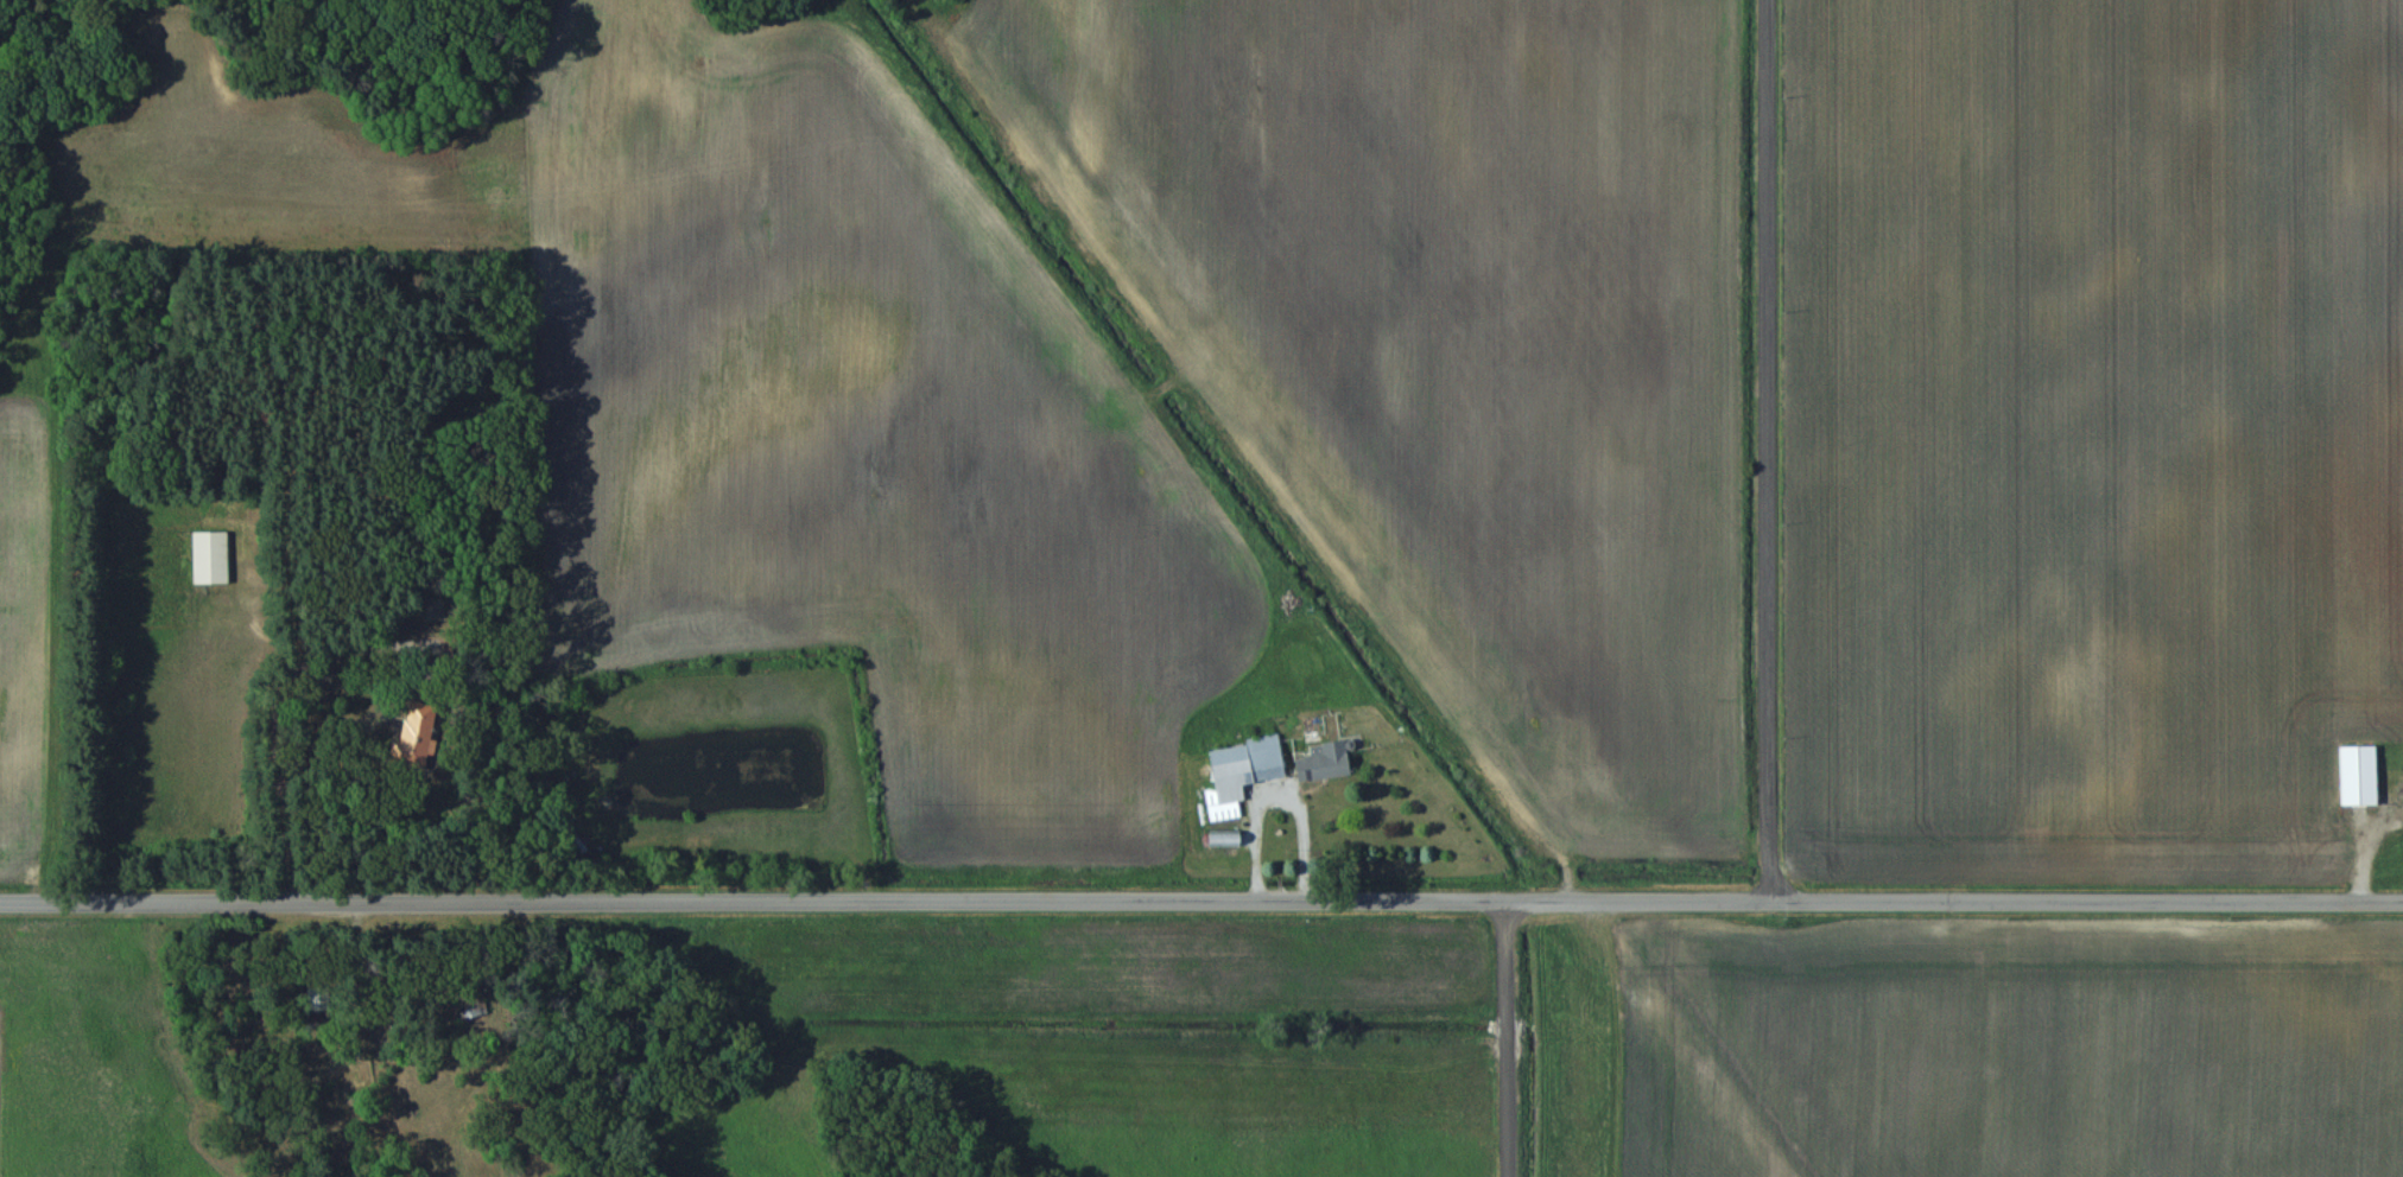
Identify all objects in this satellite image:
road: (1768, 450)
building: (204, 556)
road: (285, 732)
building: (1318, 762)
road: (312, 763)
building: (1235, 772)
building: (2352, 775)
road: (2086, 899)
road: (750, 901)
road: (1636, 901)
road: (1504, 1038)

